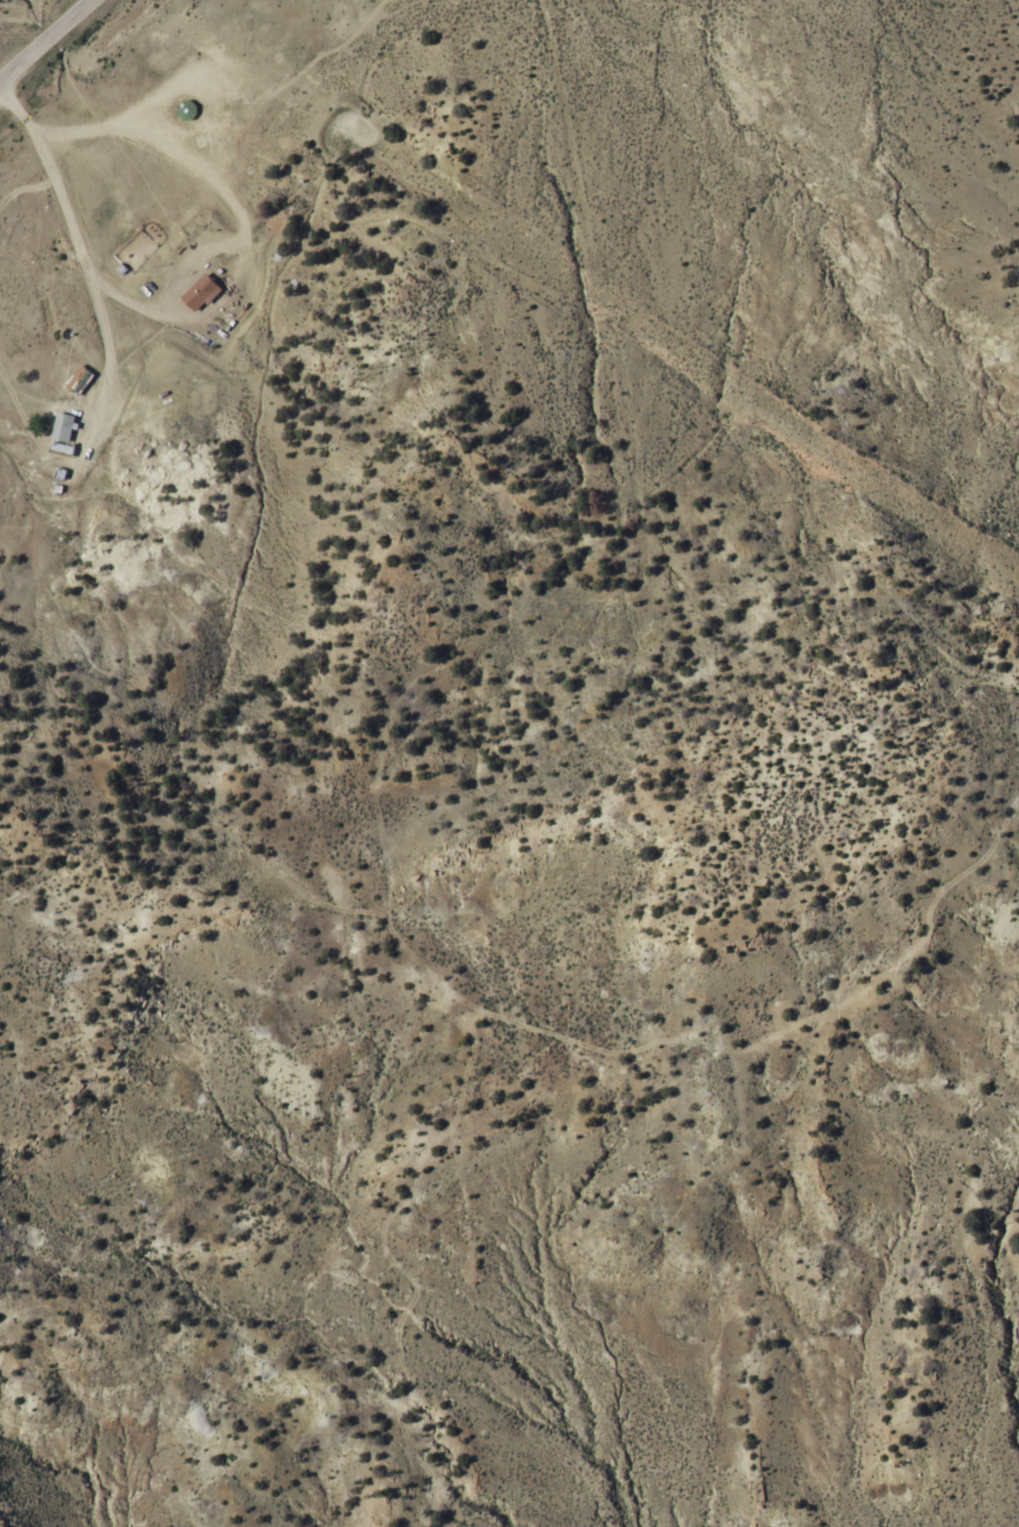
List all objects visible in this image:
road: (48, 42)
road: (0, 84)
building: (202, 293)
building: (80, 381)
building: (65, 427)

